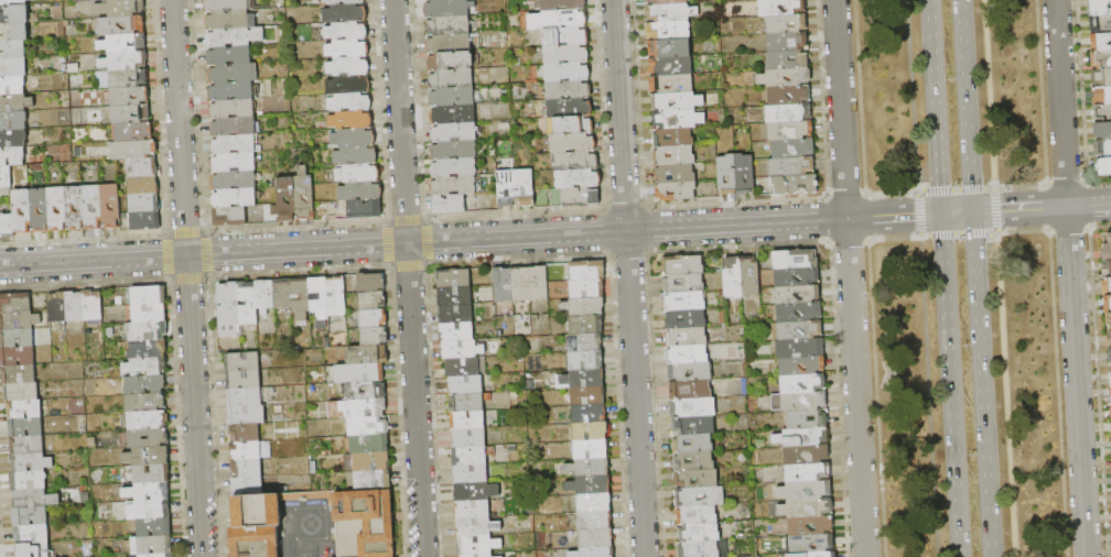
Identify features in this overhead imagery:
building: (97, 0)
building: (431, 0)
building: (12, 2)
building: (339, 2)
building: (665, 2)
building: (562, 4)
building: (231, 6)
building: (120, 8)
building: (447, 8)
building: (781, 8)
building: (1099, 8)
building: (346, 13)
building: (670, 13)
building: (15, 14)
building: (229, 20)
building: (559, 20)
building: (787, 24)
building: (1100, 24)
building: (122, 25)
building: (447, 25)
building: (347, 31)
building: (668, 31)
building: (13, 32)
building: (234, 36)
building: (565, 36)
building: (1101, 42)
building: (449, 43)
building: (788, 43)
building: (123, 44)
building: (348, 48)
building: (669, 48)
building: (12, 50)
building: (567, 54)
building: (229, 55)
building: (787, 59)
building: (1101, 59)
building: (453, 61)
building: (125, 62)
building: (349, 66)
building: (671, 66)
building: (13, 68)
building: (568, 72)
building: (233, 74)
building: (1101, 77)
building: (786, 78)
building: (129, 79)
building: (451, 79)
building: (349, 85)
building: (671, 85)
building: (12, 86)
building: (569, 89)
building: (233, 91)
road: (989, 94)
building: (789, 96)
road: (910, 96)
building: (1102, 96)
building: (130, 97)
building: (452, 97)
building: (350, 102)
building: (677, 102)
building: (15, 103)
road: (966, 105)
road: (935, 106)
building: (570, 108)
building: (230, 109)
building: (452, 113)
building: (789, 113)
building: (1102, 113)
building: (131, 114)
building: (352, 120)
building: (678, 120)
building: (13, 121)
building: (570, 125)
building: (236, 127)
building: (790, 131)
building: (1102, 131)
building: (134, 132)
building: (453, 132)
building: (352, 138)
building: (673, 138)
building: (13, 139)
building: (573, 143)
building: (235, 144)
building: (792, 149)
building: (1103, 149)
building: (134, 150)
building: (454, 150)
building: (356, 155)
building: (673, 155)
building: (12, 156)
building: (576, 161)
building: (235, 162)
building: (142, 167)
building: (453, 167)
building: (791, 167)
building: (1103, 167)
building: (355, 173)
building: (673, 174)
building: (726, 175)
building: (745, 175)
building: (6, 177)
building: (579, 178)
building: (234, 181)
building: (795, 184)
traffic signals: (939, 185)
building: (143, 186)
building: (453, 186)
building: (525, 188)
building: (507, 189)
road: (954, 190)
building: (360, 192)
building: (676, 192)
building: (304, 195)
building: (581, 197)
building: (234, 198)
building: (287, 200)
building: (144, 204)
building: (449, 204)
road: (1089, 204)
building: (111, 206)
building: (94, 207)
building: (75, 208)
road: (1020, 208)
building: (57, 209)
building: (365, 209)
building: (40, 210)
road: (995, 210)
traffic signals: (997, 210)
building: (21, 211)
road: (956, 212)
road: (893, 215)
traffic signals: (914, 215)
road: (917, 215)
building: (230, 217)
building: (145, 221)
building: (7, 226)
road: (957, 234)
traffic signals: (974, 237)
road: (423, 242)
building: (1108, 249)
building: (795, 259)
building: (682, 265)
building: (1107, 267)
building: (587, 271)
building: (751, 275)
building: (732, 276)
road: (187, 277)
road: (629, 277)
building: (797, 277)
road: (1070, 277)
road: (407, 278)
building: (453, 278)
road: (850, 278)
park: (960, 278)
building: (371, 283)
building: (538, 283)
building: (683, 283)
building: (520, 284)
building: (503, 285)
building: (1107, 285)
building: (587, 290)
building: (283, 294)
building: (148, 295)
building: (265, 296)
building: (336, 296)
building: (798, 296)
building: (454, 297)
building: (301, 298)
building: (320, 301)
building: (684, 301)
building: (373, 302)
building: (15, 303)
building: (247, 303)
building: (93, 305)
building: (227, 305)
building: (1107, 305)
building: (75, 307)
building: (584, 307)
building: (57, 309)
building: (150, 313)
building: (799, 314)
building: (455, 315)
building: (374, 319)
building: (686, 319)
building: (19, 320)
building: (1110, 323)
building: (586, 325)
building: (148, 330)
building: (800, 331)
building: (456, 332)
building: (374, 337)
building: (687, 337)
building: (17, 338)
building: (1109, 339)
building: (585, 342)
building: (145, 349)
building: (800, 349)
building: (462, 350)
building: (367, 356)
building: (687, 356)
building: (1109, 356)
building: (17, 357)
building: (586, 360)
building: (242, 362)
building: (802, 365)
building: (147, 367)
building: (463, 368)
building: (1110, 371)
building: (690, 372)
building: (357, 373)
building: (18, 374)
building: (583, 379)
building: (244, 380)
road: (981, 383)
building: (803, 384)
road: (950, 384)
building: (144, 385)
building: (466, 385)
building: (1110, 390)
building: (365, 391)
building: (690, 391)
building: (21, 392)
road: (1005, 394)
building: (589, 395)
road: (927, 396)
building: (245, 397)
building: (799, 402)
building: (145, 403)
building: (467, 404)
building: (692, 407)
building: (358, 408)
building: (24, 409)
building: (1110, 411)
building: (590, 413)
building: (246, 415)
building: (808, 418)
building: (144, 421)
building: (468, 421)
building: (693, 425)
building: (369, 426)
building: (25, 428)
building: (591, 430)
building: (244, 434)
building: (803, 437)
building: (145, 438)
building: (470, 438)
building: (368, 444)
building: (692, 444)
building: (26, 445)
building: (592, 449)
building: (245, 451)
building: (148, 456)
building: (807, 456)
building: (470, 457)
building: (371, 461)
building: (693, 461)
building: (31, 462)
building: (589, 467)
building: (246, 469)
building: (808, 472)
building: (151, 473)
building: (471, 474)
building: (697, 479)
building: (373, 480)
building: (29, 481)
building: (590, 484)
building: (247, 487)
building: (806, 490)
building: (476, 491)
building: (147, 492)
building: (700, 496)
building: (34, 499)
building: (595, 503)
building: (808, 509)
building: (150, 510)
building: (472, 510)
building: (697, 515)
building: (30, 516)
building: (595, 521)
building: (364, 523)
building: (256, 524)
building: (811, 526)
building: (153, 527)
building: (477, 527)
building: (699, 533)
building: (32, 534)
building: (596, 538)
building: (812, 544)
building: (478, 545)
building: (149, 546)
building: (703, 548)
building: (34, 550)
building: (594, 551)
building: (159, 555)
building: (478, 555)
building: (815, 555)

